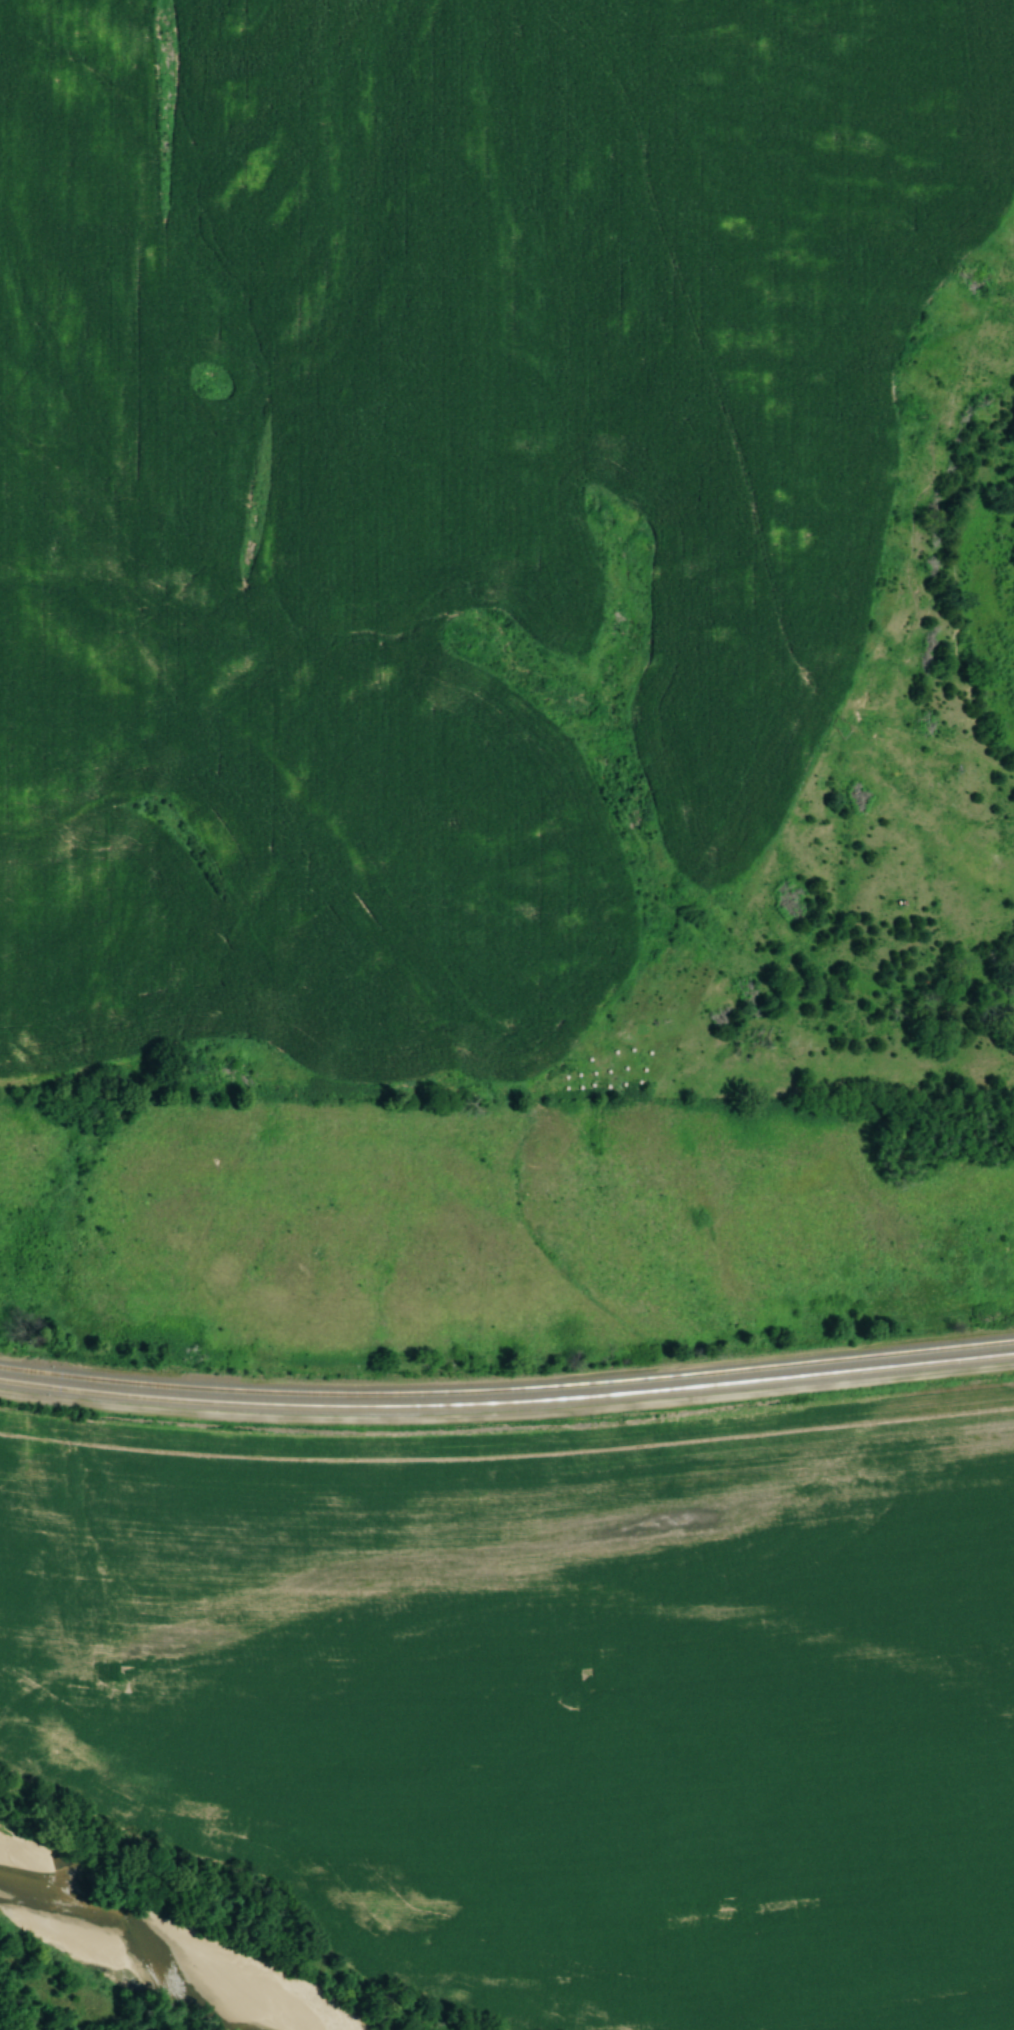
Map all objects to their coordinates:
railway: (507, 1388)
railway: (507, 1400)
river: (158, 1945)

